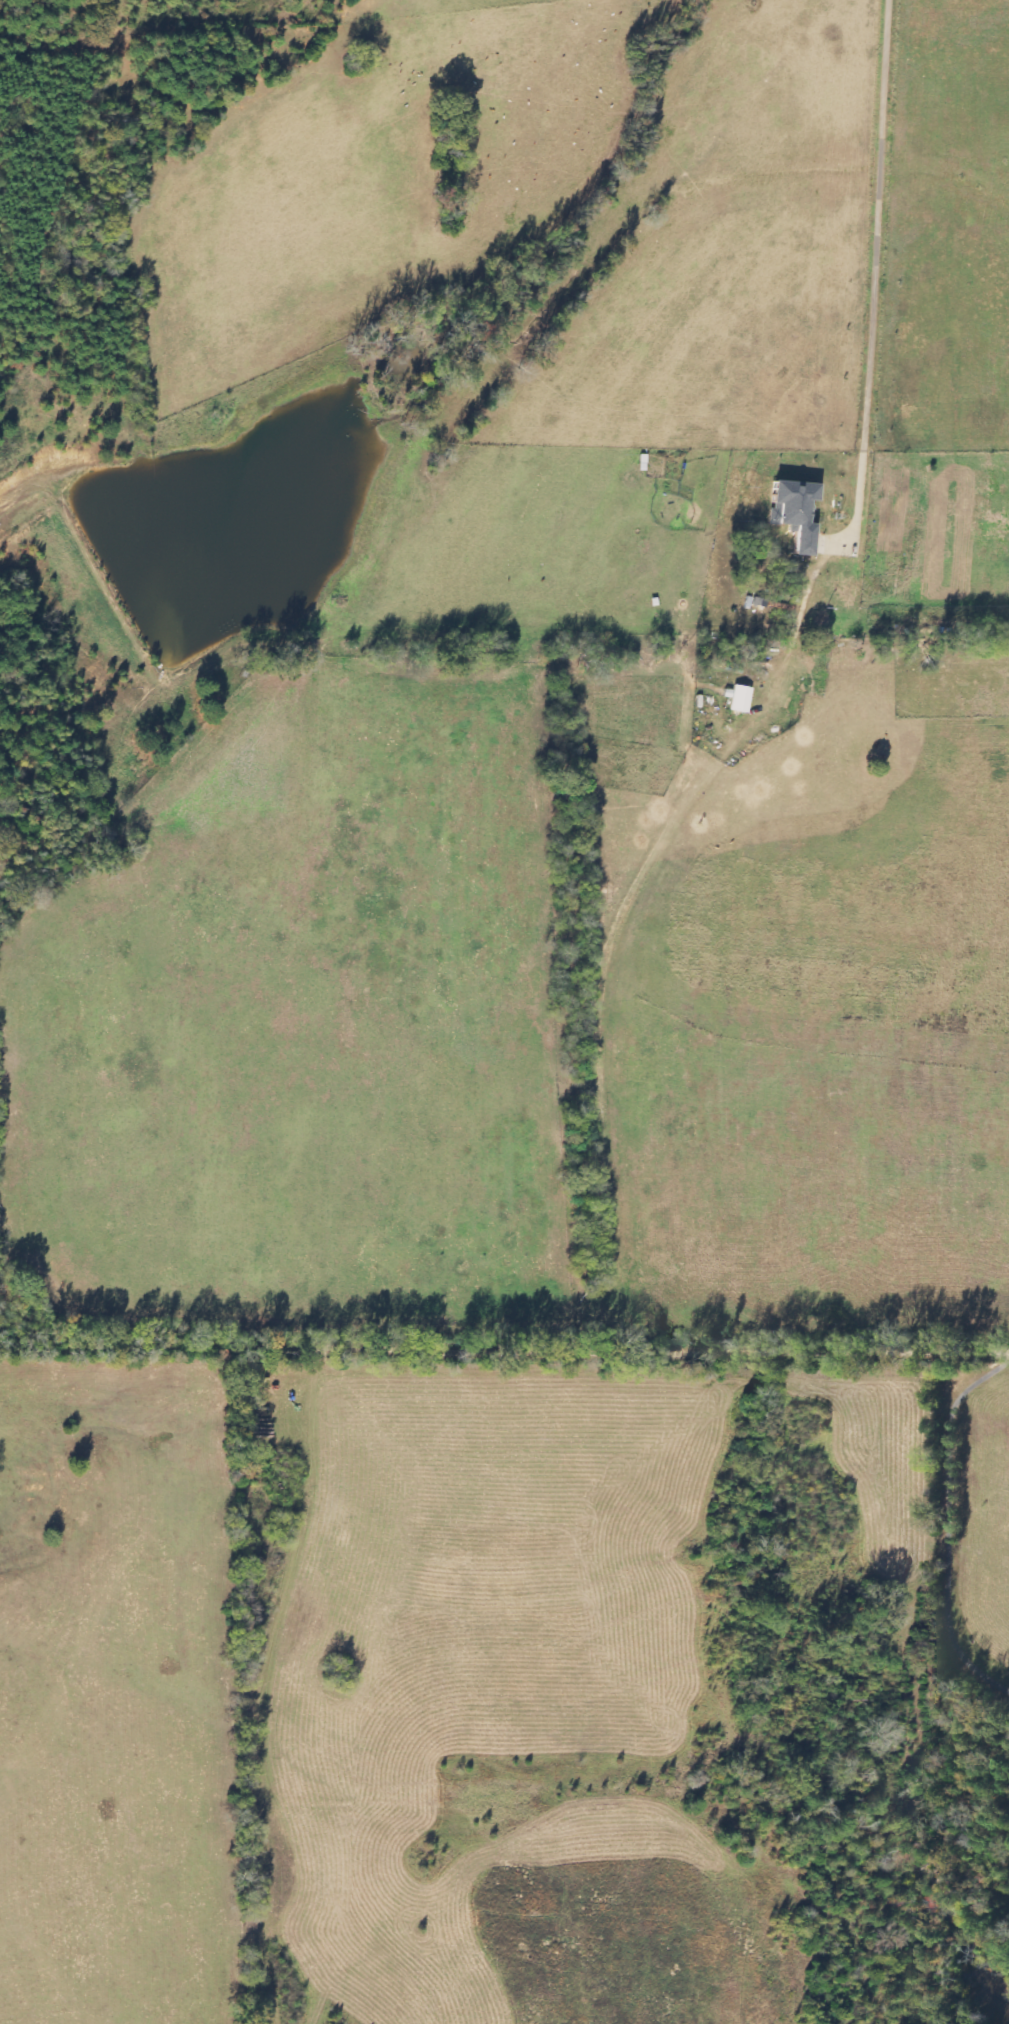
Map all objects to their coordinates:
road: (873, 271)
building: (795, 511)
building: (740, 698)

